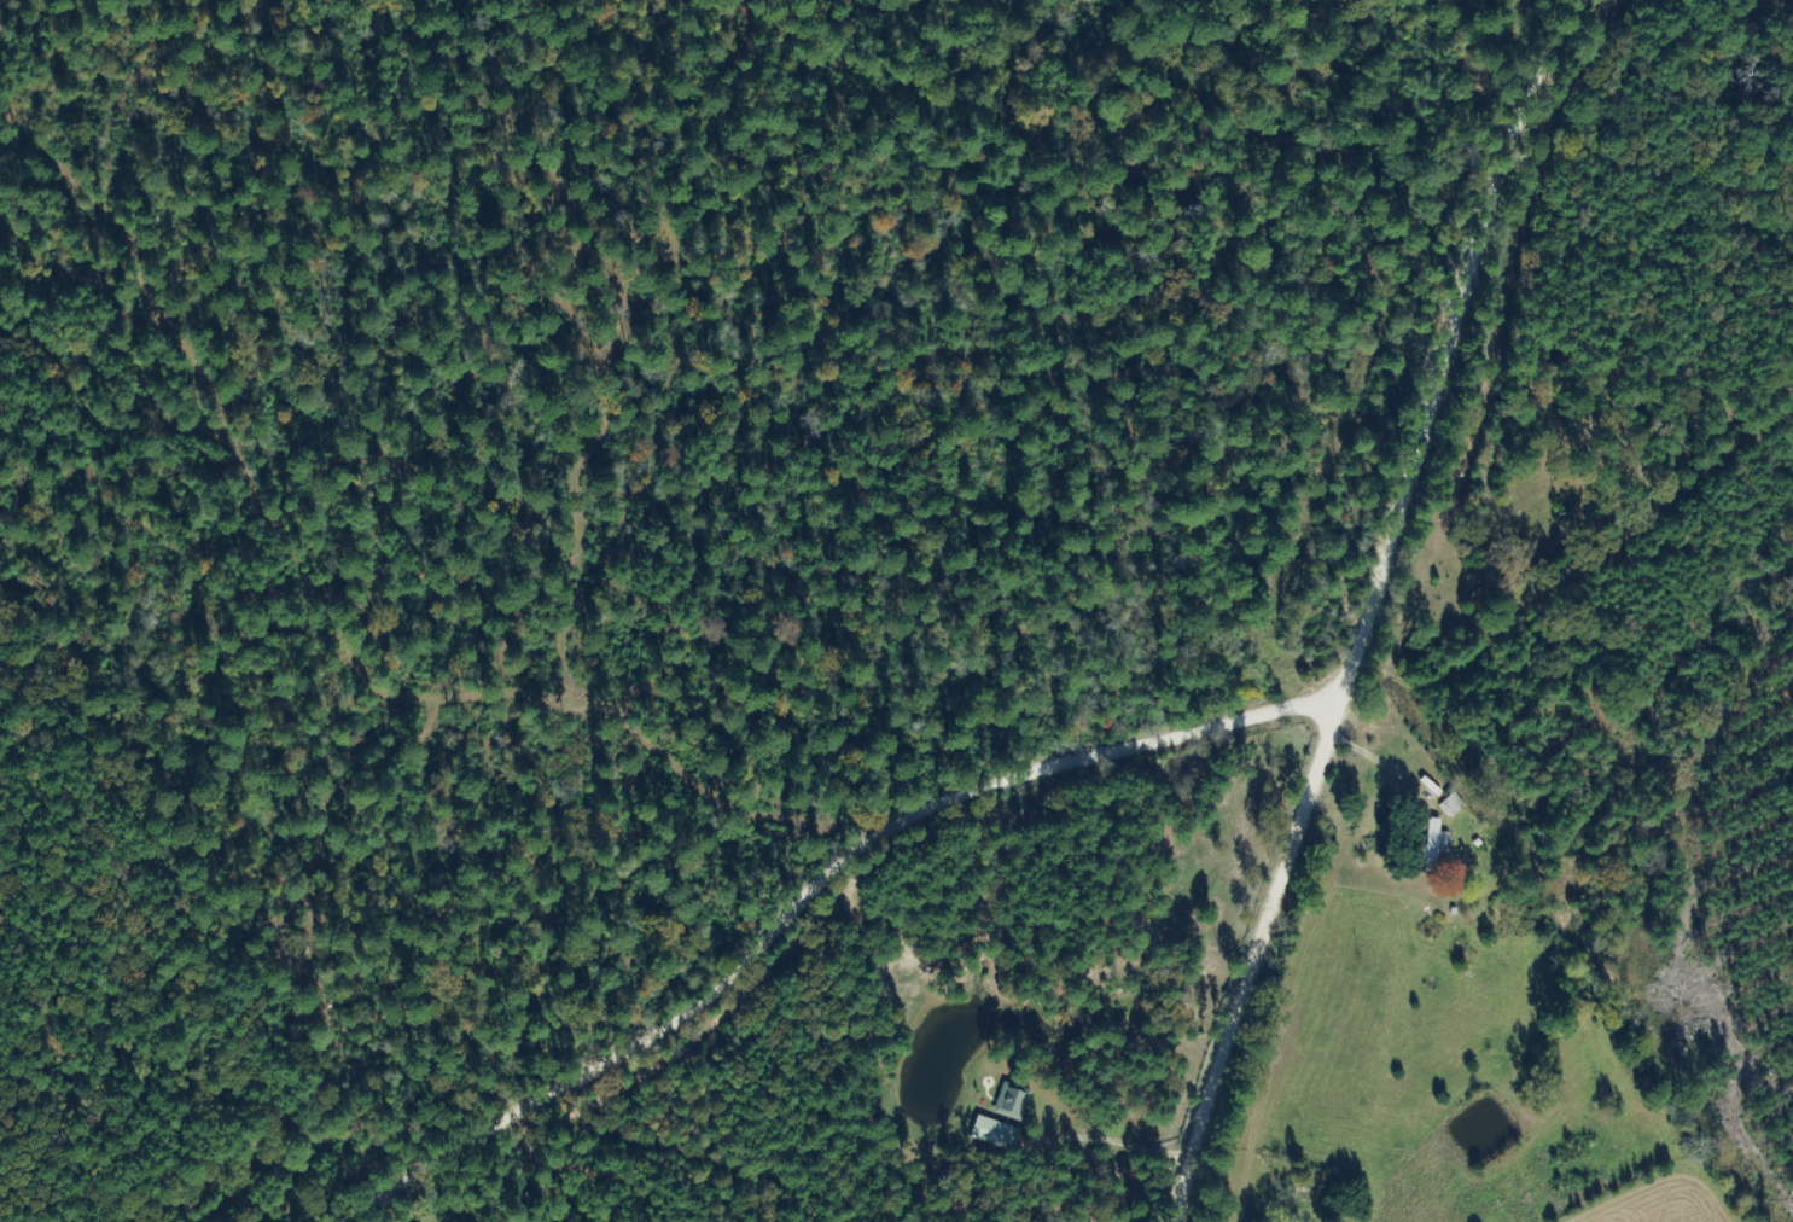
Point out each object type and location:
road: (1332, 598)
building: (1434, 846)
road: (764, 916)
road: (74, 973)
building: (1012, 1102)
building: (994, 1133)

